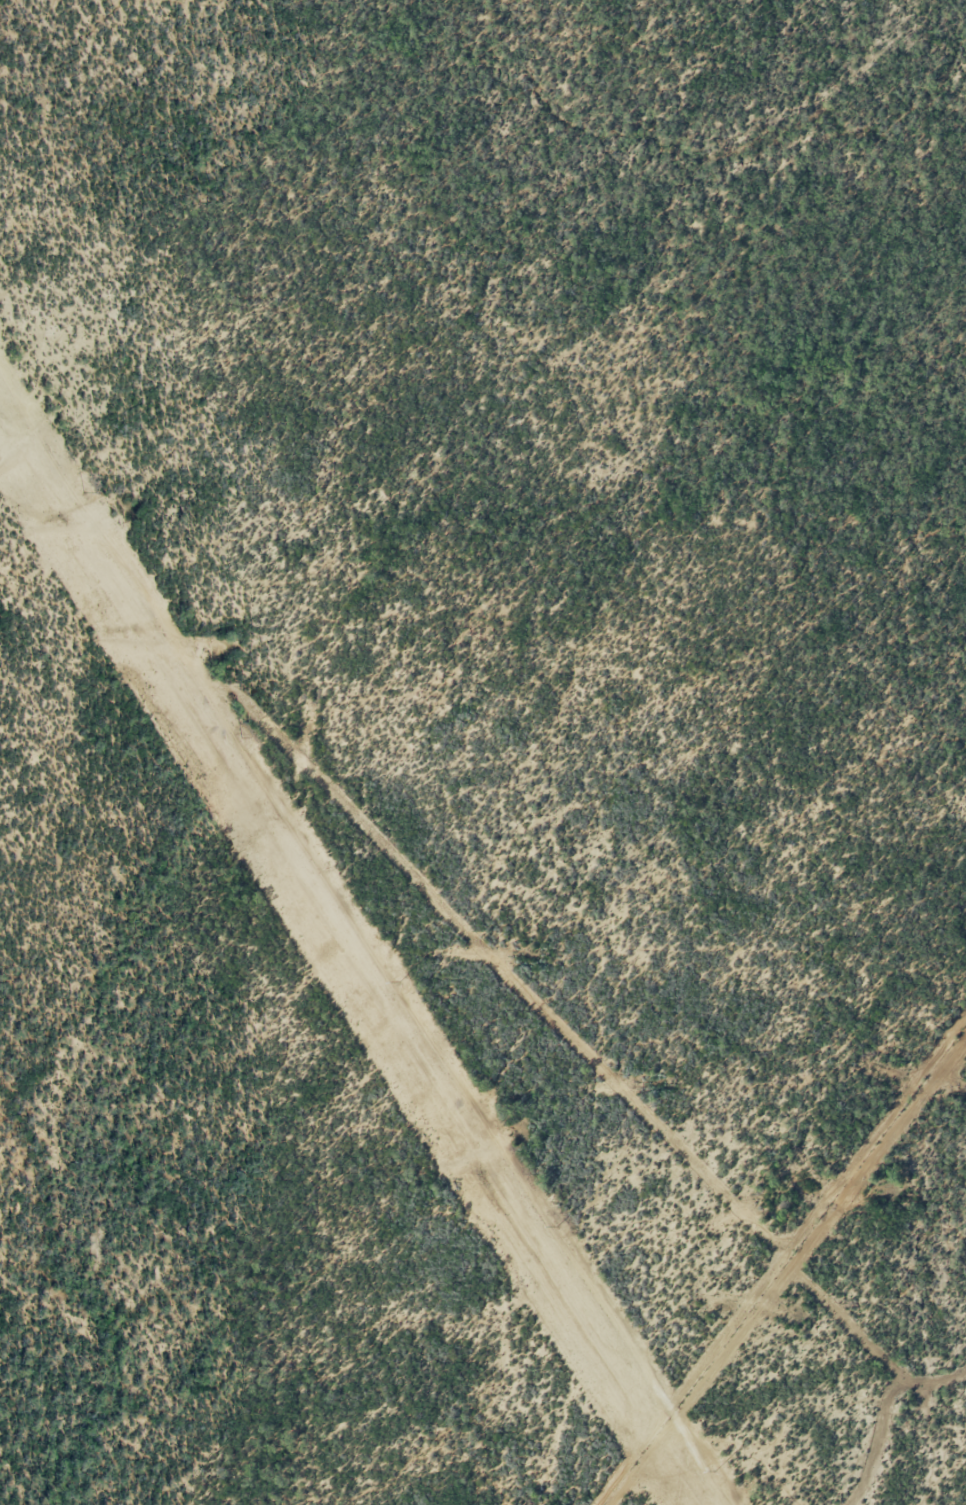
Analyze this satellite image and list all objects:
power tower: (83, 491)
power tower: (241, 736)
power tower: (398, 981)
power tower: (556, 1225)
power tower: (713, 1470)

